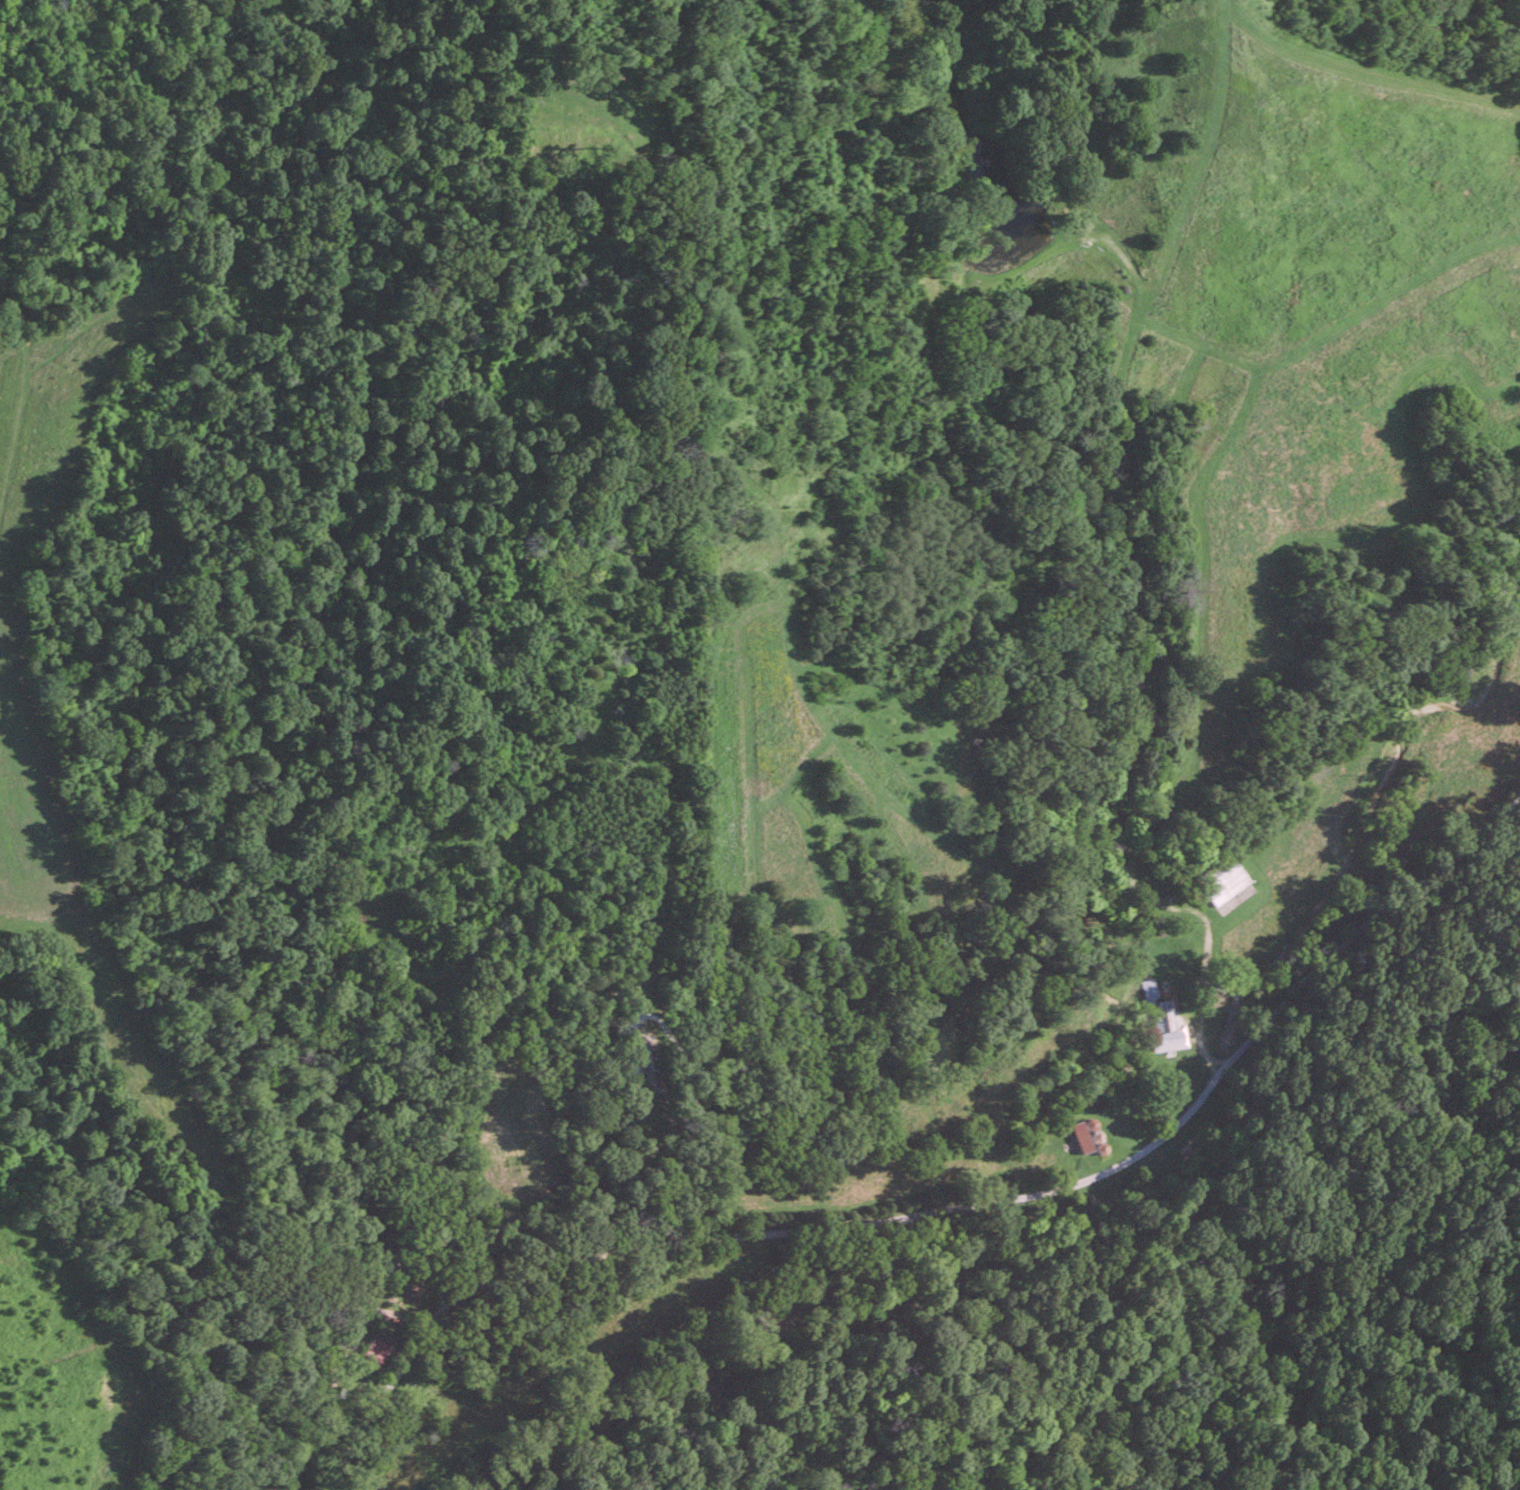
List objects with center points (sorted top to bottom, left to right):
building: (1228, 882)
building: (1164, 1013)
road: (942, 1212)
building: (378, 1348)

